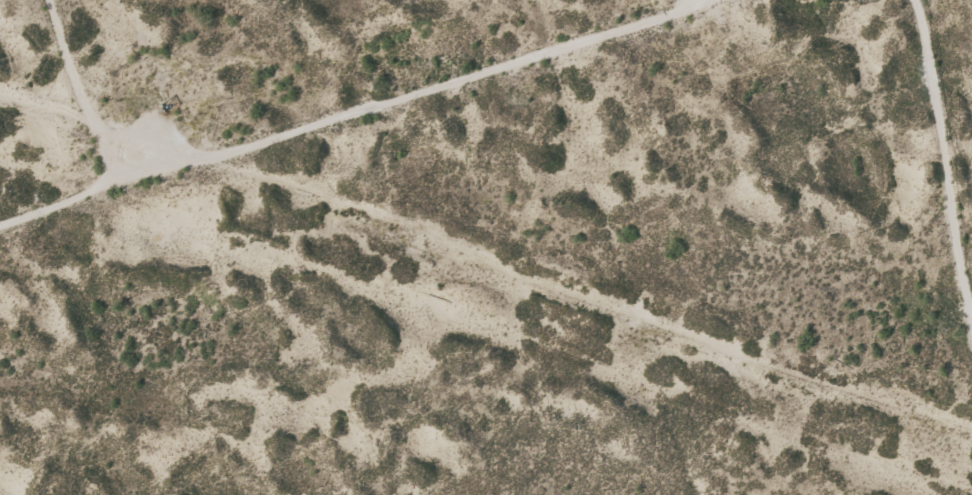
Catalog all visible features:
road: (75, 98)
road: (942, 119)
road: (419, 124)

